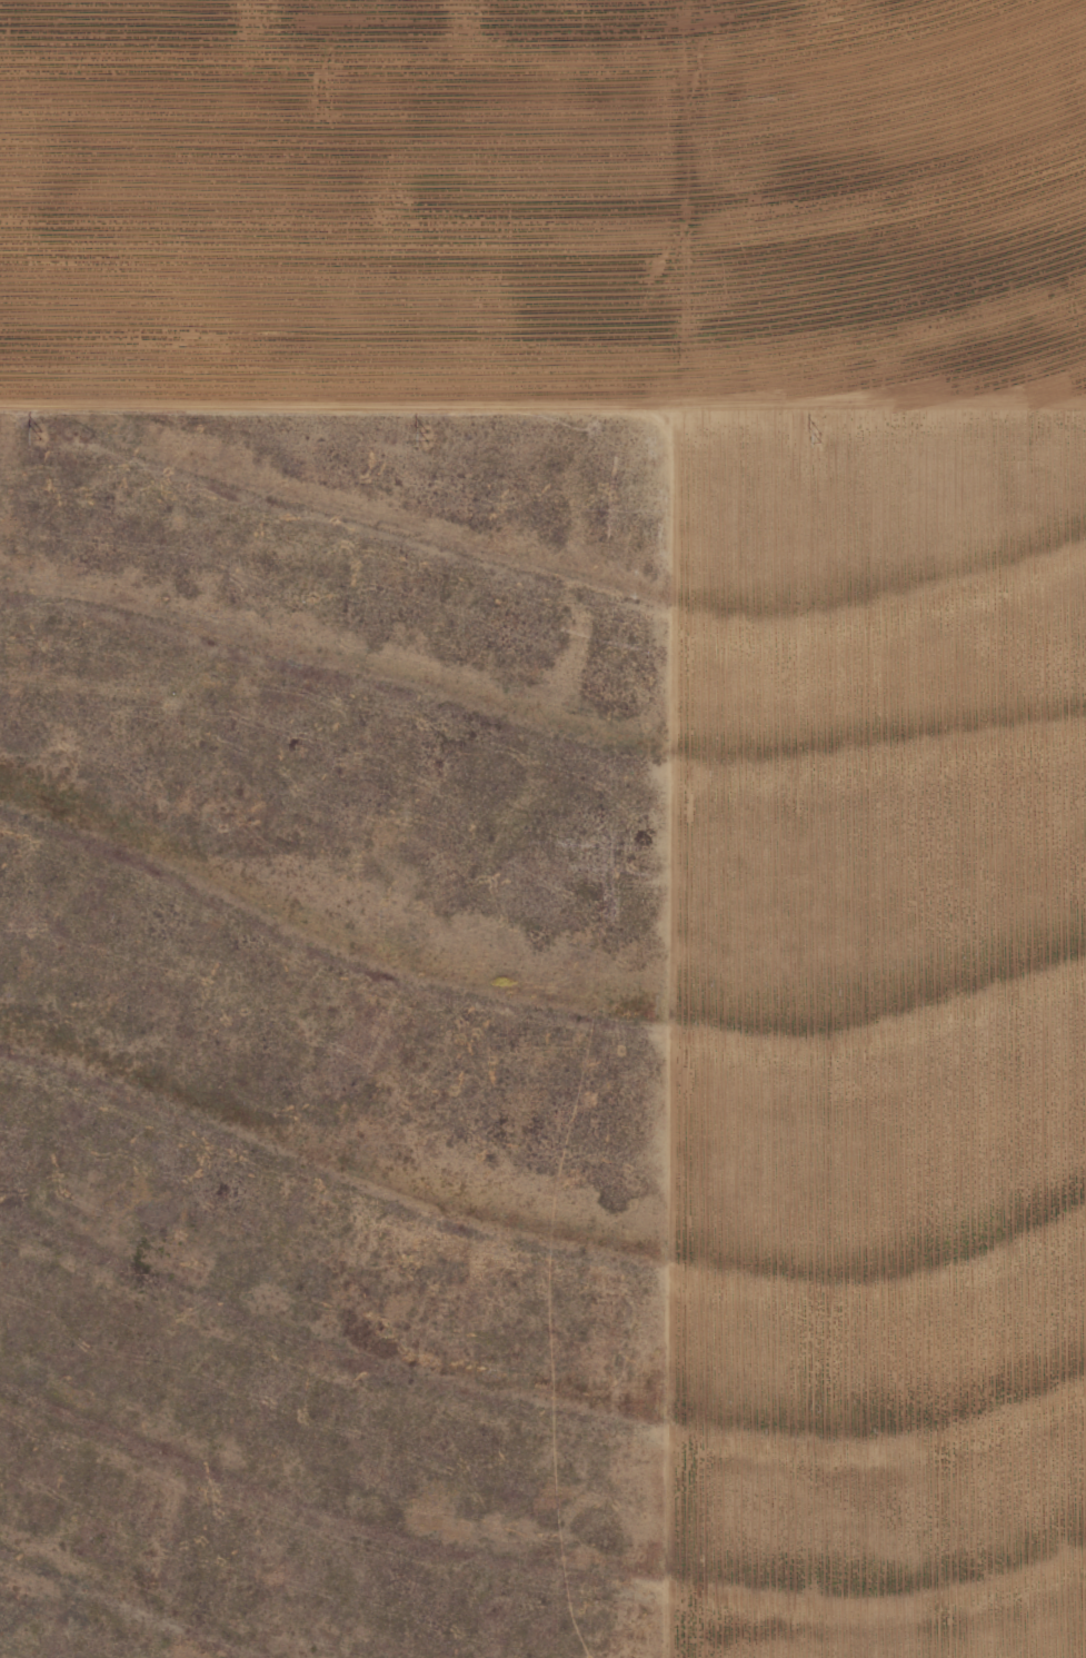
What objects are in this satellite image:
road: (542, 421)
power tower: (34, 429)
power tower: (425, 434)
power tower: (816, 435)

